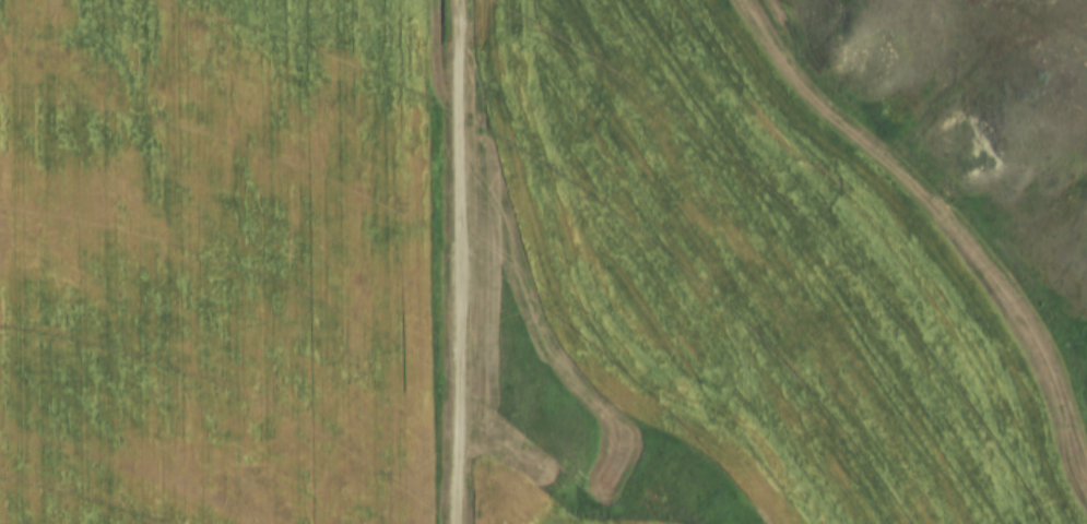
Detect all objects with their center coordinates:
road: (464, 262)

